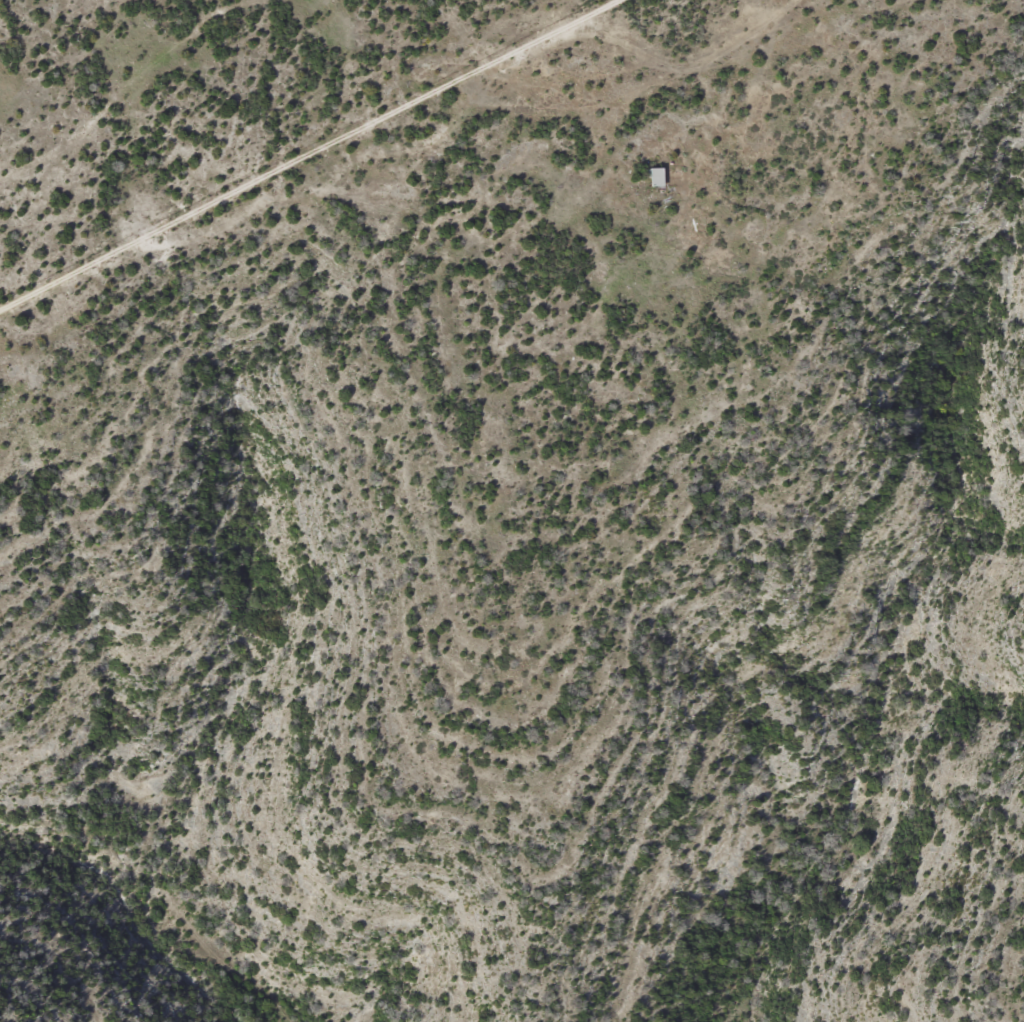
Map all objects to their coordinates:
road: (132, 89)
building: (651, 176)

